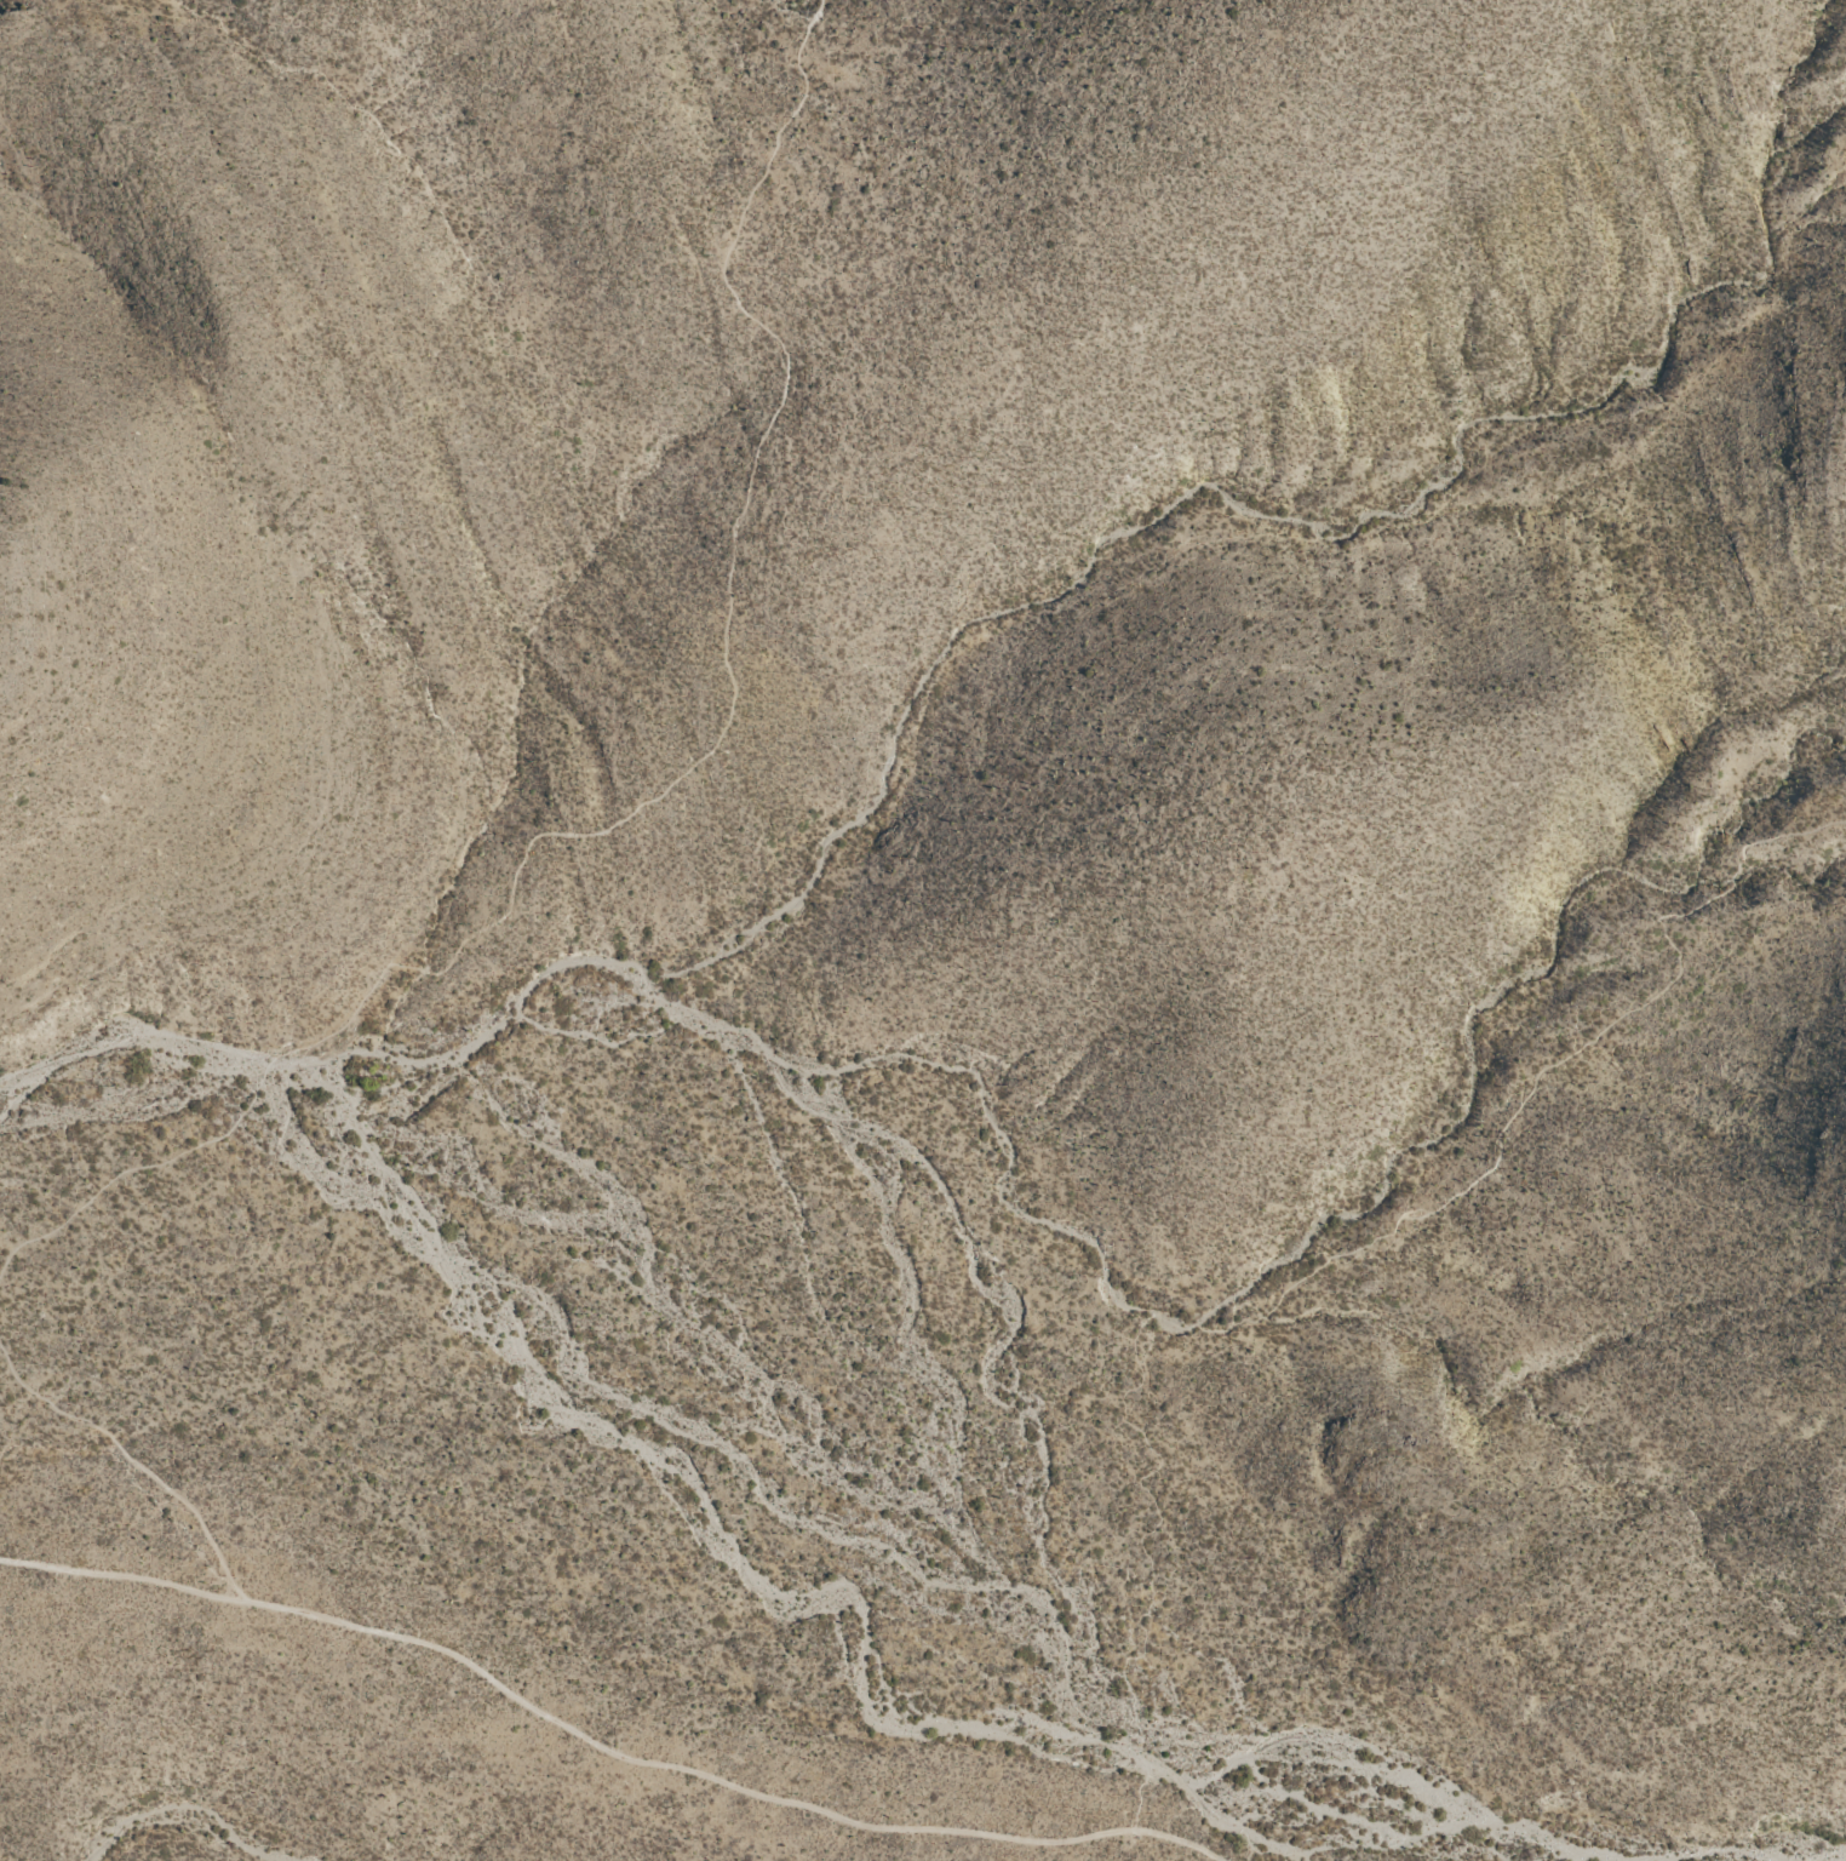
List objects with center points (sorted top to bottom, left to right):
road: (664, 789)
road: (131, 1465)
road: (120, 1575)
road: (720, 1782)

